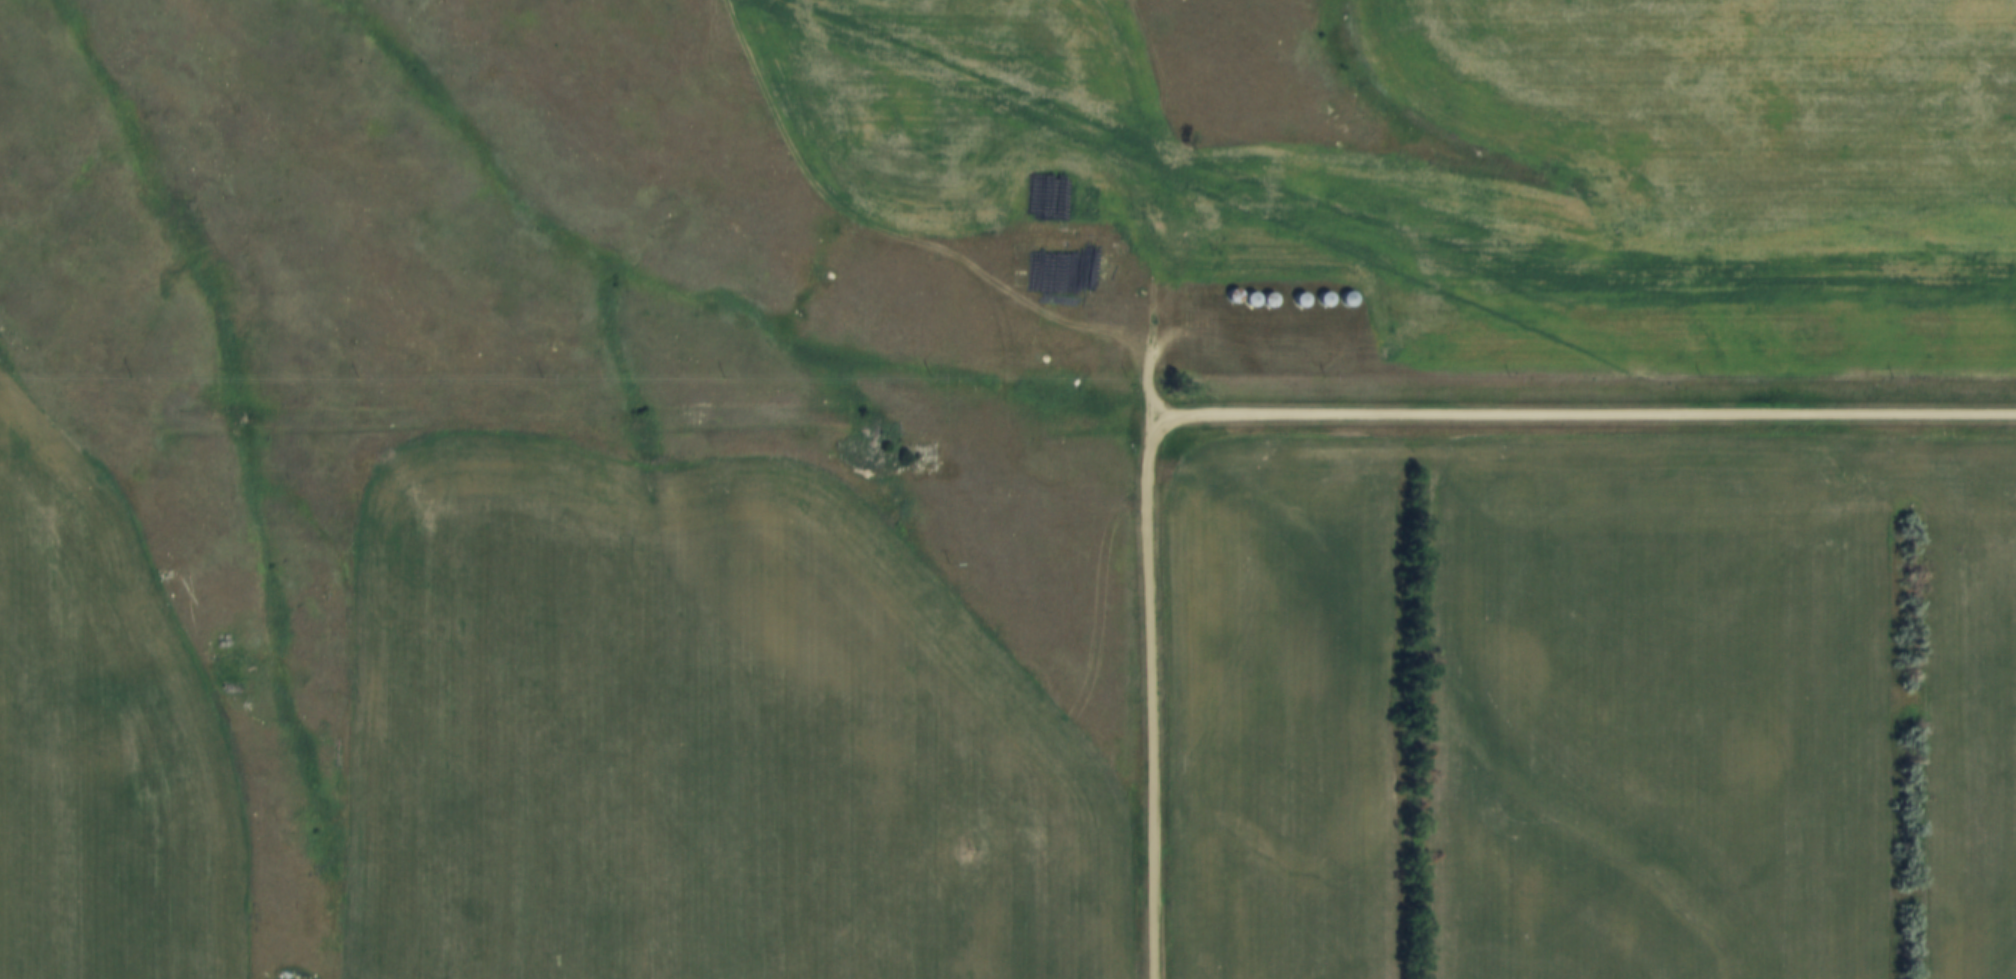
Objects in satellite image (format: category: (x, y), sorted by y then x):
road: (925, 238)
road: (1586, 416)
road: (1149, 699)
road: (755, 765)

